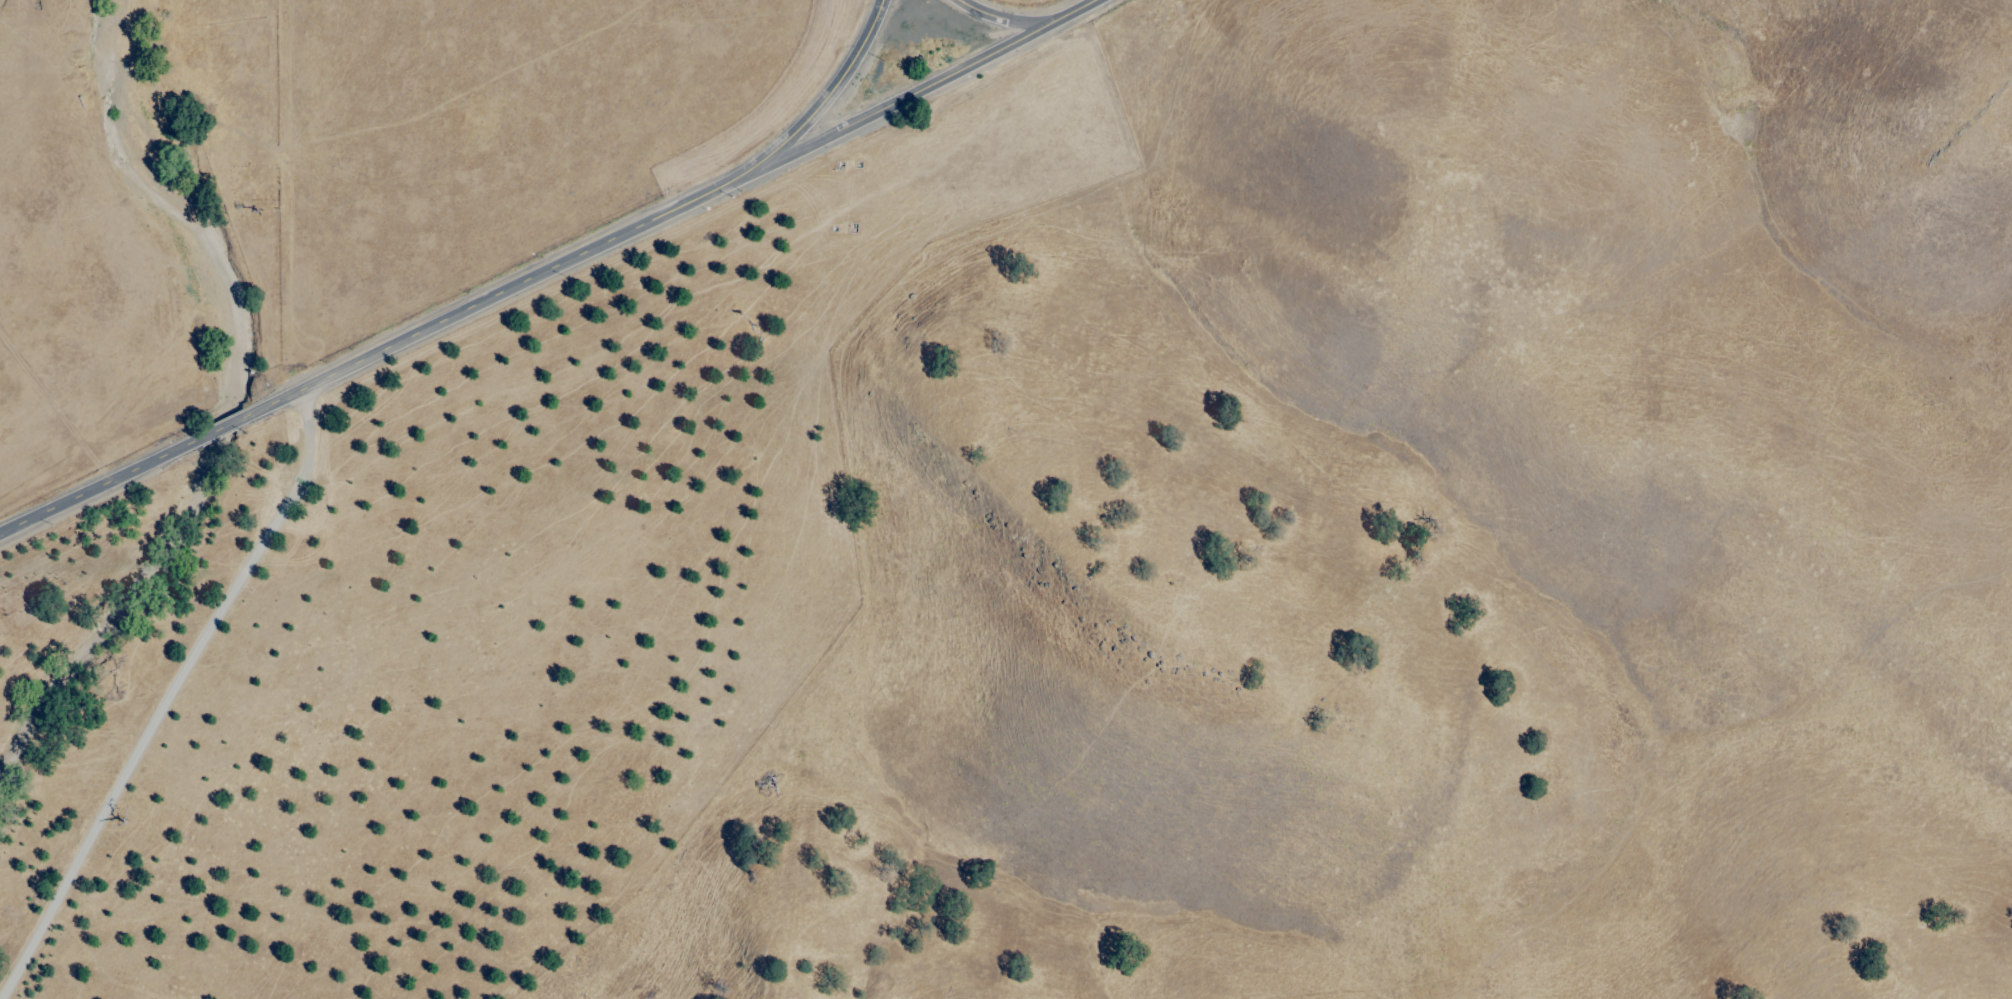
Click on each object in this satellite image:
road: (1077, 12)
road: (1004, 19)
road: (914, 95)
road: (478, 309)
park: (77, 352)
road: (57, 407)
road: (1527, 508)
park: (1479, 545)
road: (171, 700)

